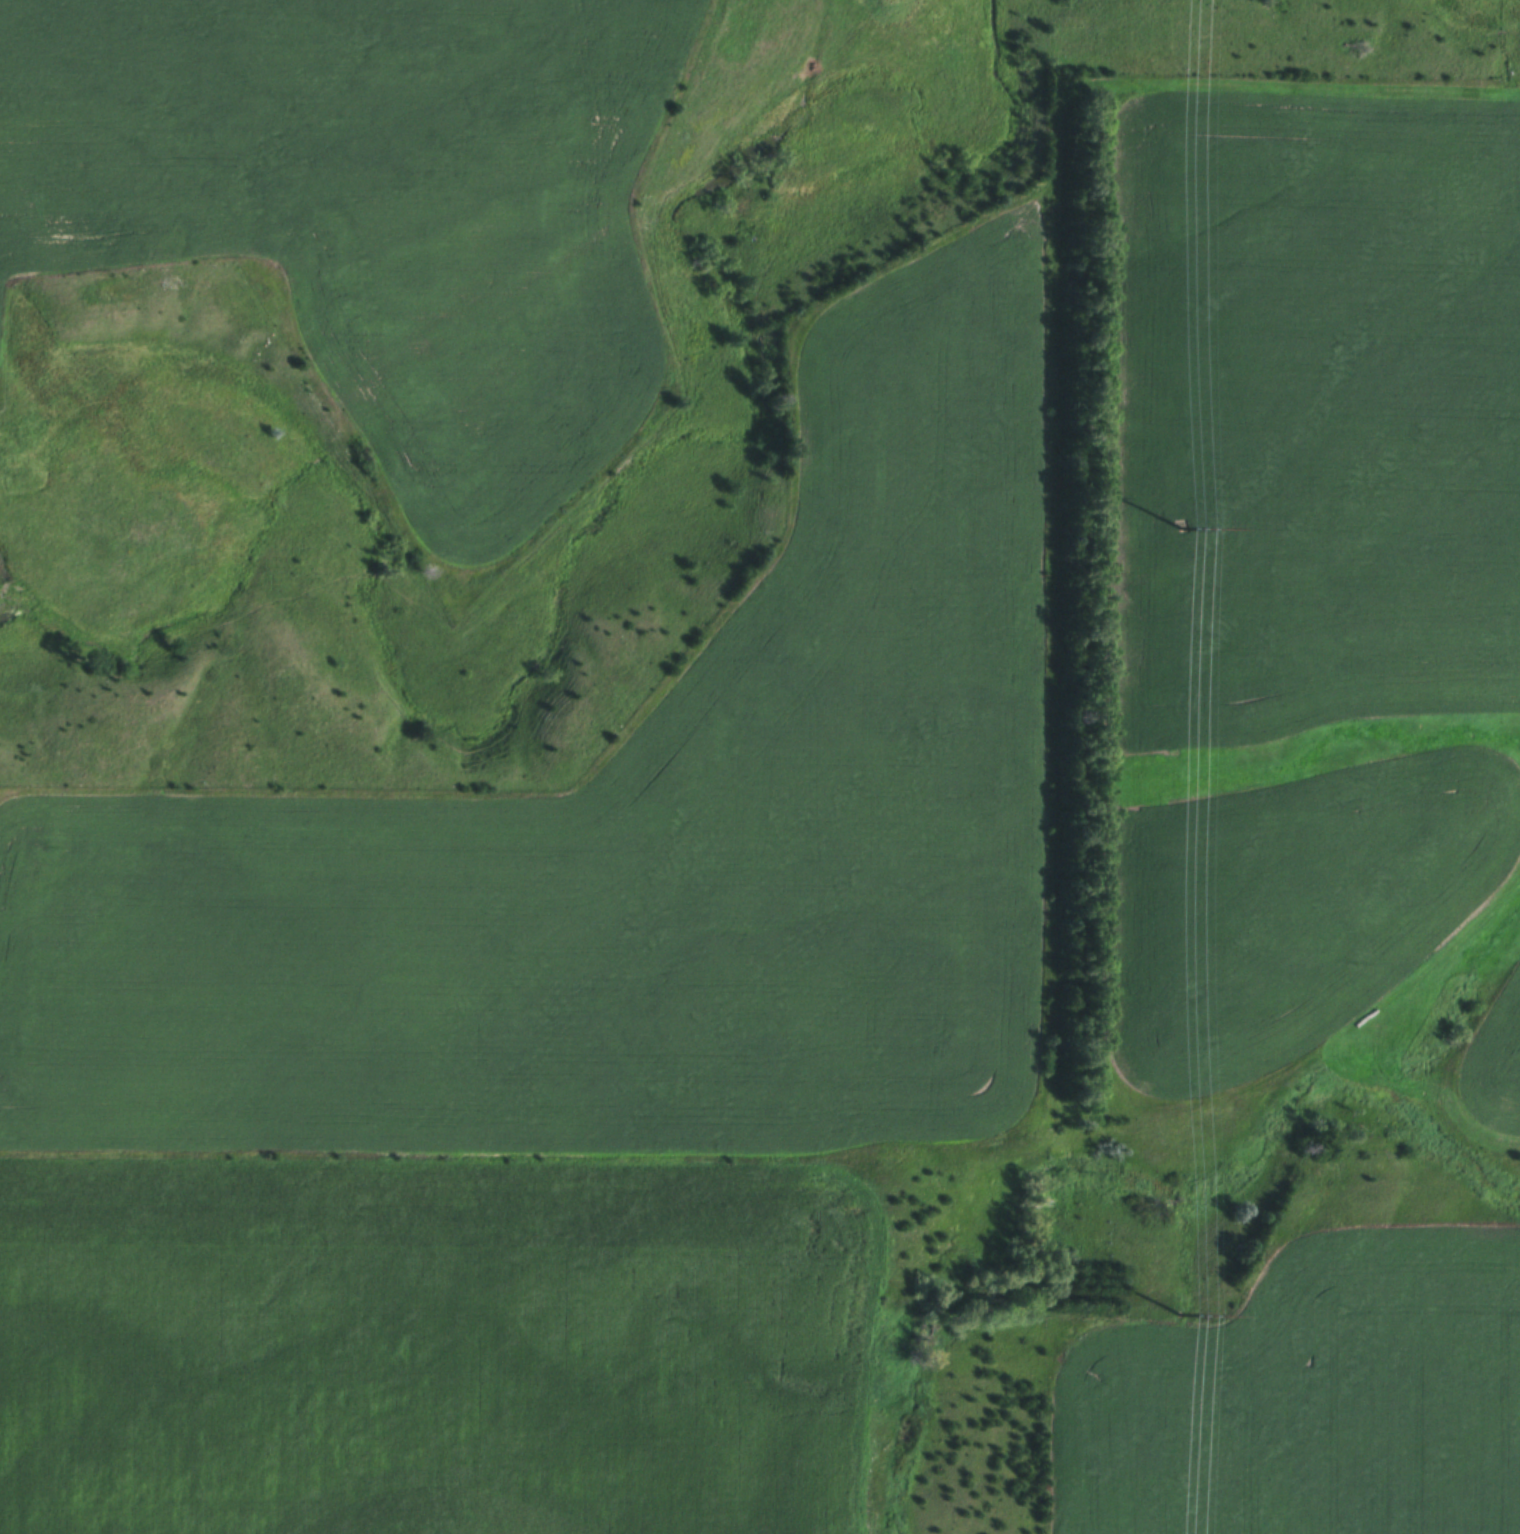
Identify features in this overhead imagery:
power tower: (1182, 526)
power tower: (1182, 1313)

